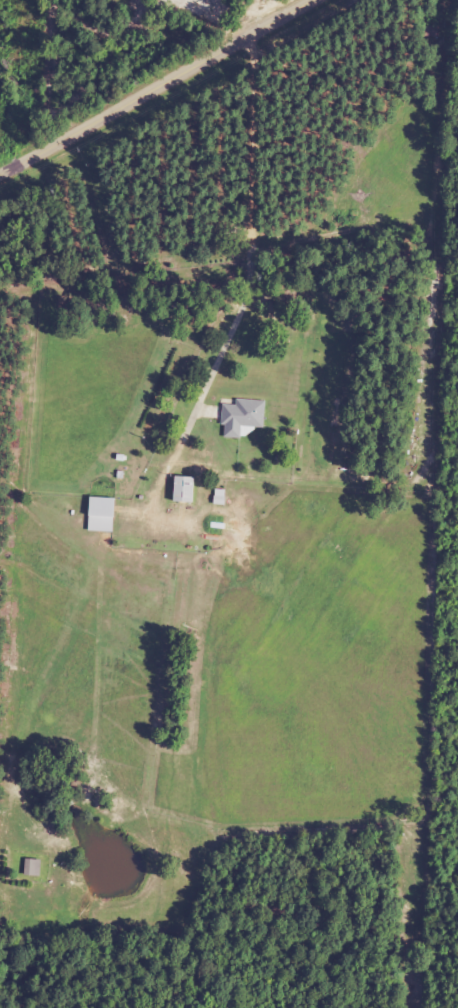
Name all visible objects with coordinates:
road: (210, 127)
road: (414, 194)

